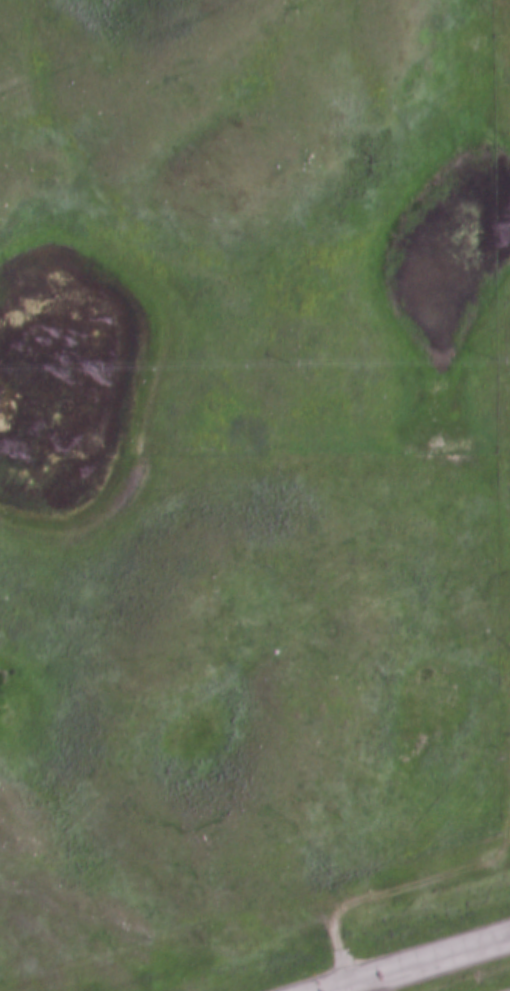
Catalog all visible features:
road: (422, 965)
road: (349, 989)

